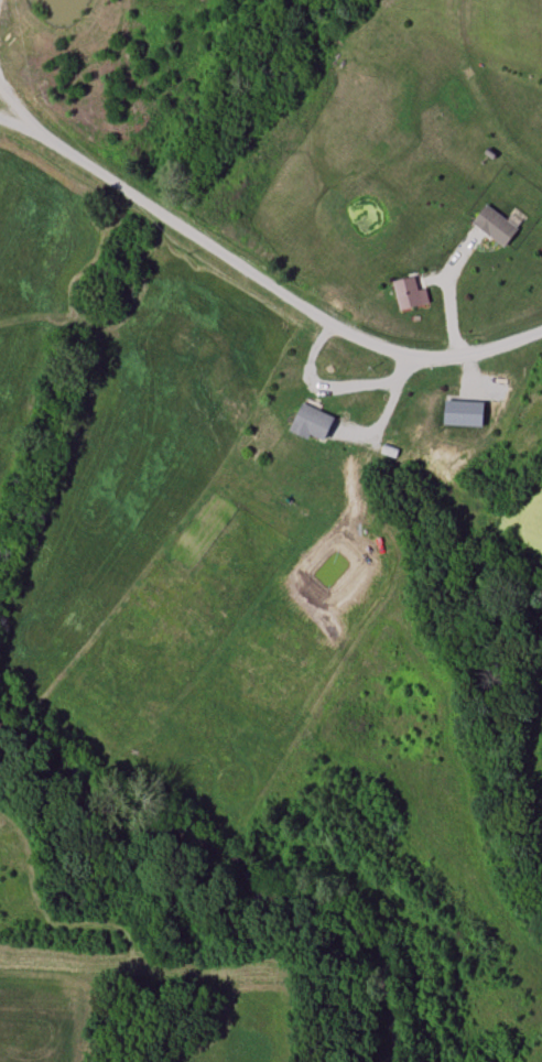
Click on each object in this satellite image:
building: (495, 225)
road: (267, 278)
road: (443, 294)
road: (381, 407)
building: (313, 423)
river: (238, 871)

